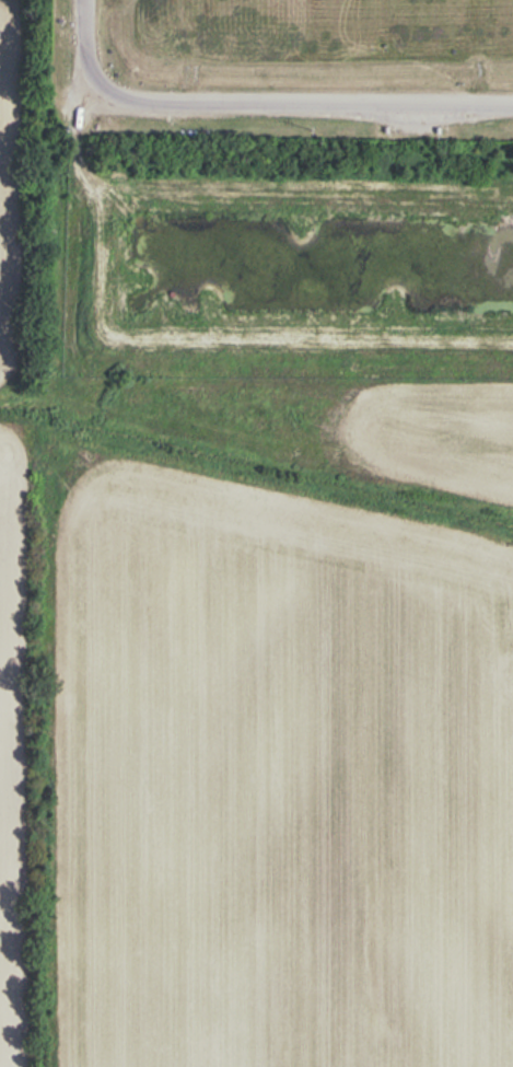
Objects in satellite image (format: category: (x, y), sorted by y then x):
landfill: (288, 53)
road: (256, 107)

